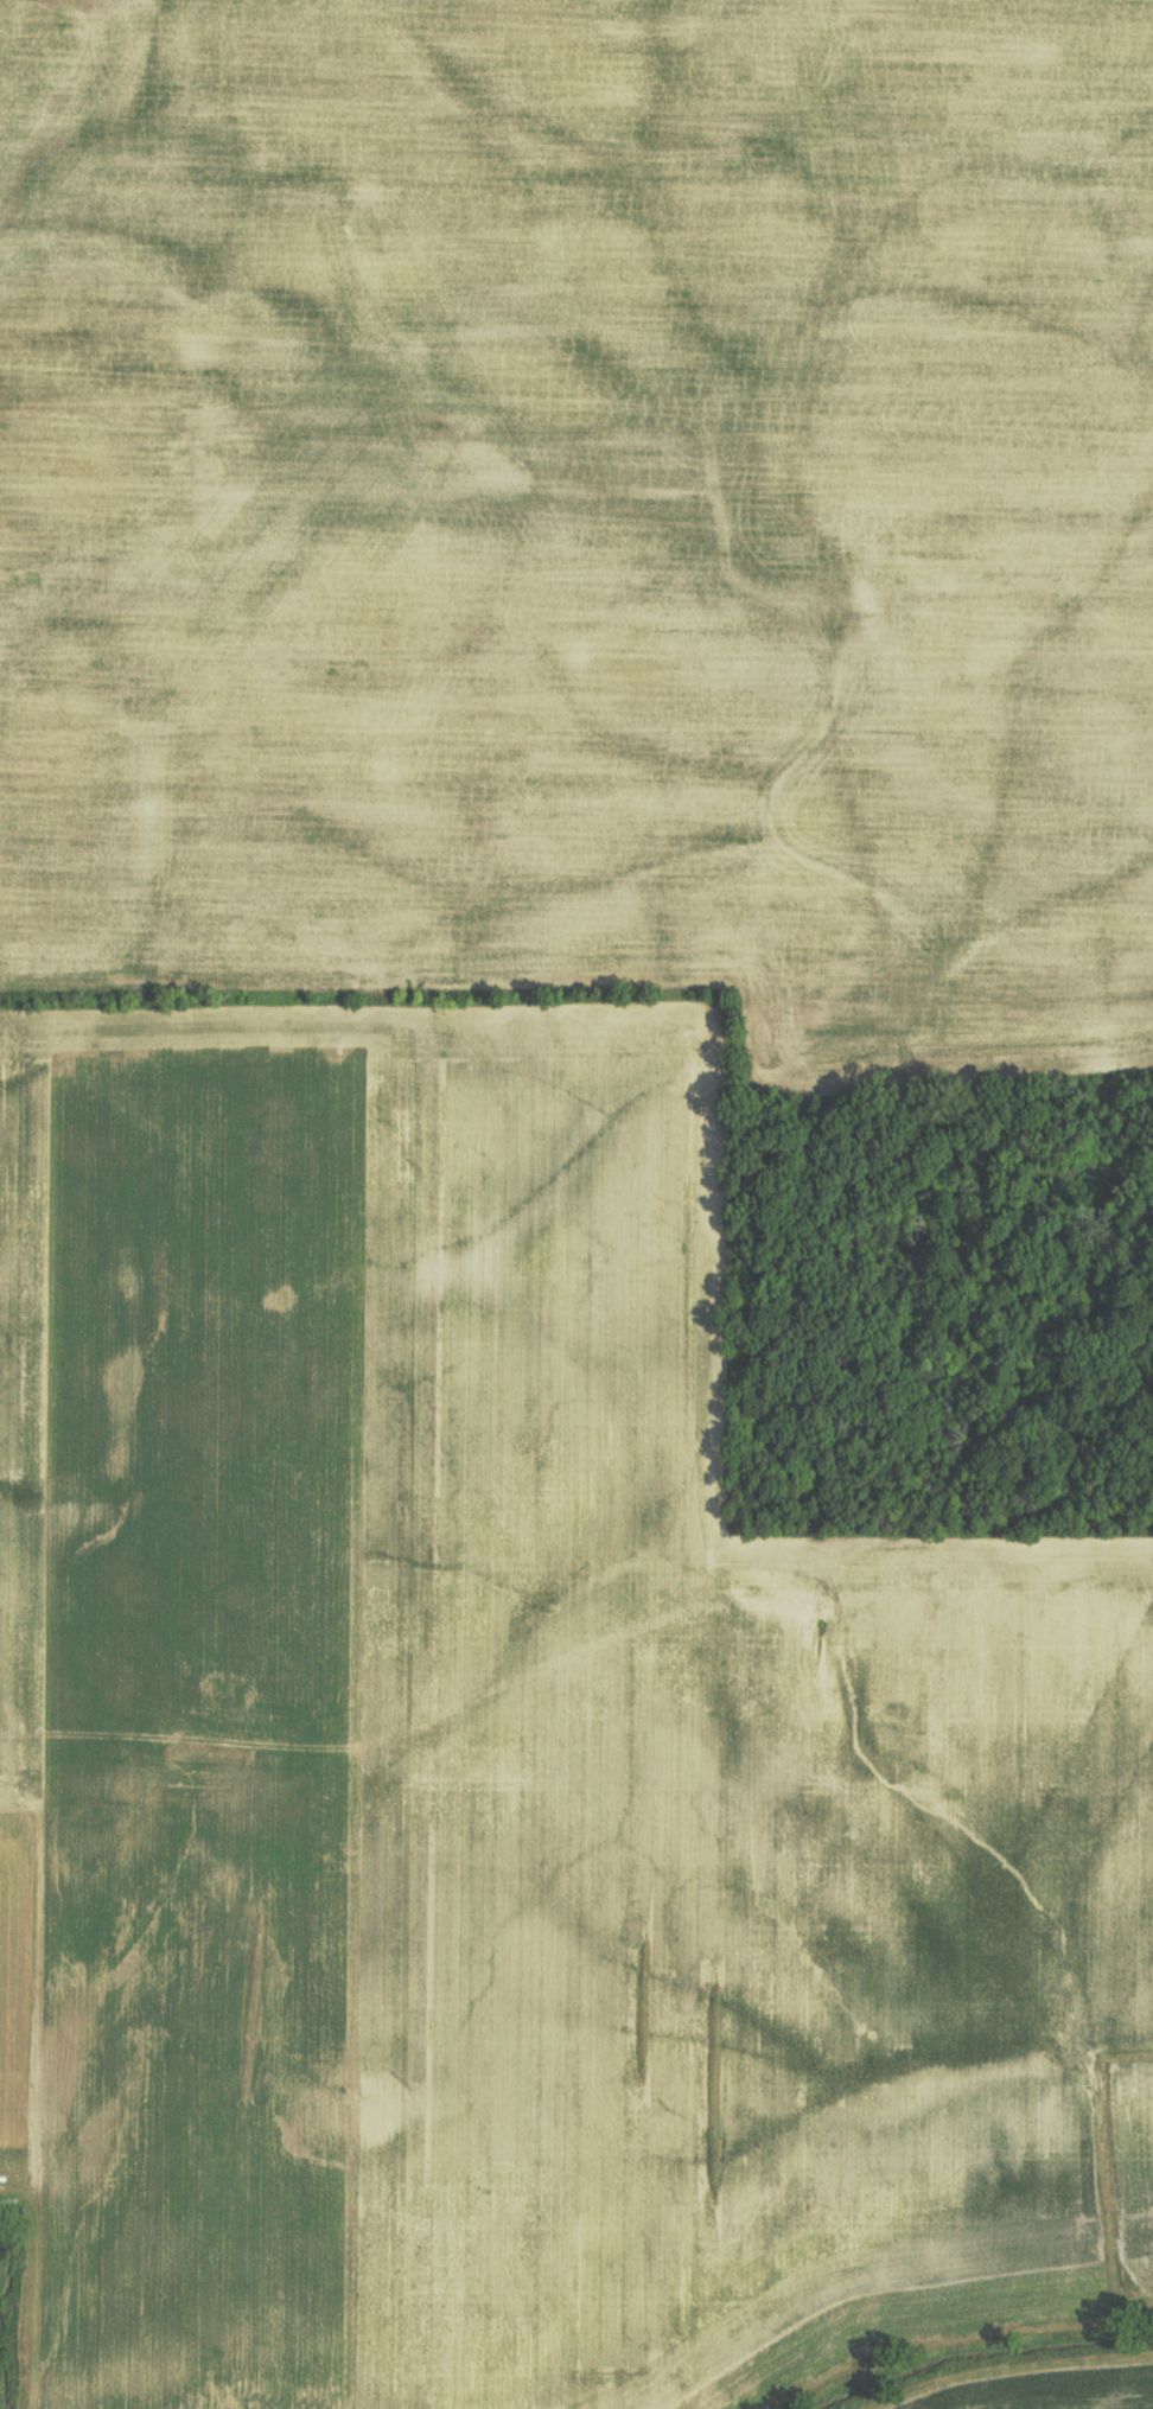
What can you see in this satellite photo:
crop: (588, 505)

